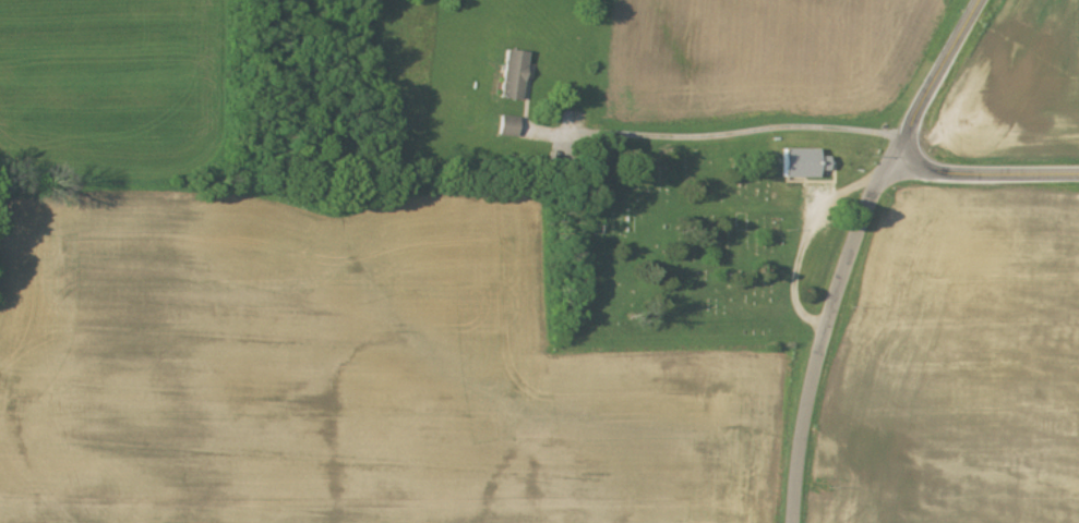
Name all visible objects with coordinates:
building: (512, 75)
road: (933, 78)
building: (508, 127)
building: (801, 163)
road: (982, 173)
road: (820, 336)

